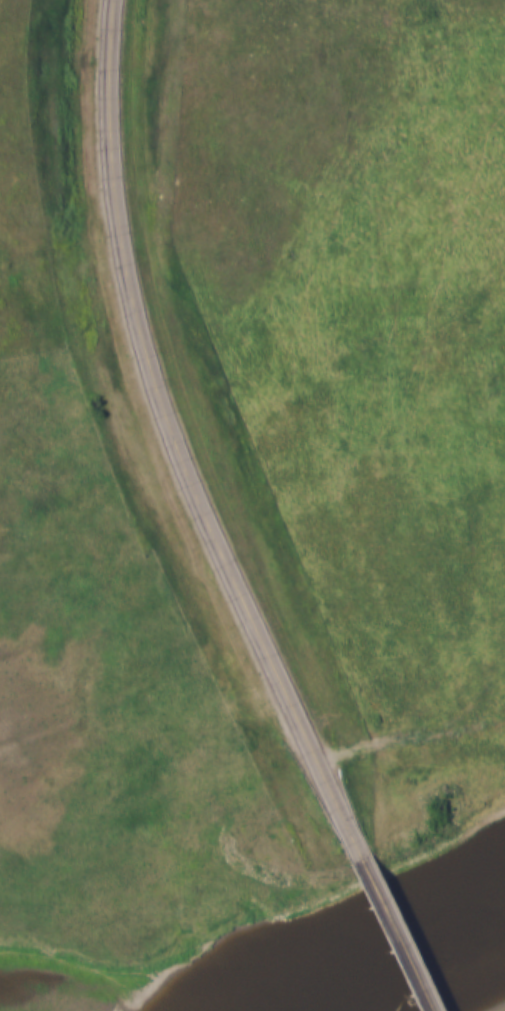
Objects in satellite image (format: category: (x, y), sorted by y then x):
road: (179, 441)
road: (395, 933)
river: (402, 958)

